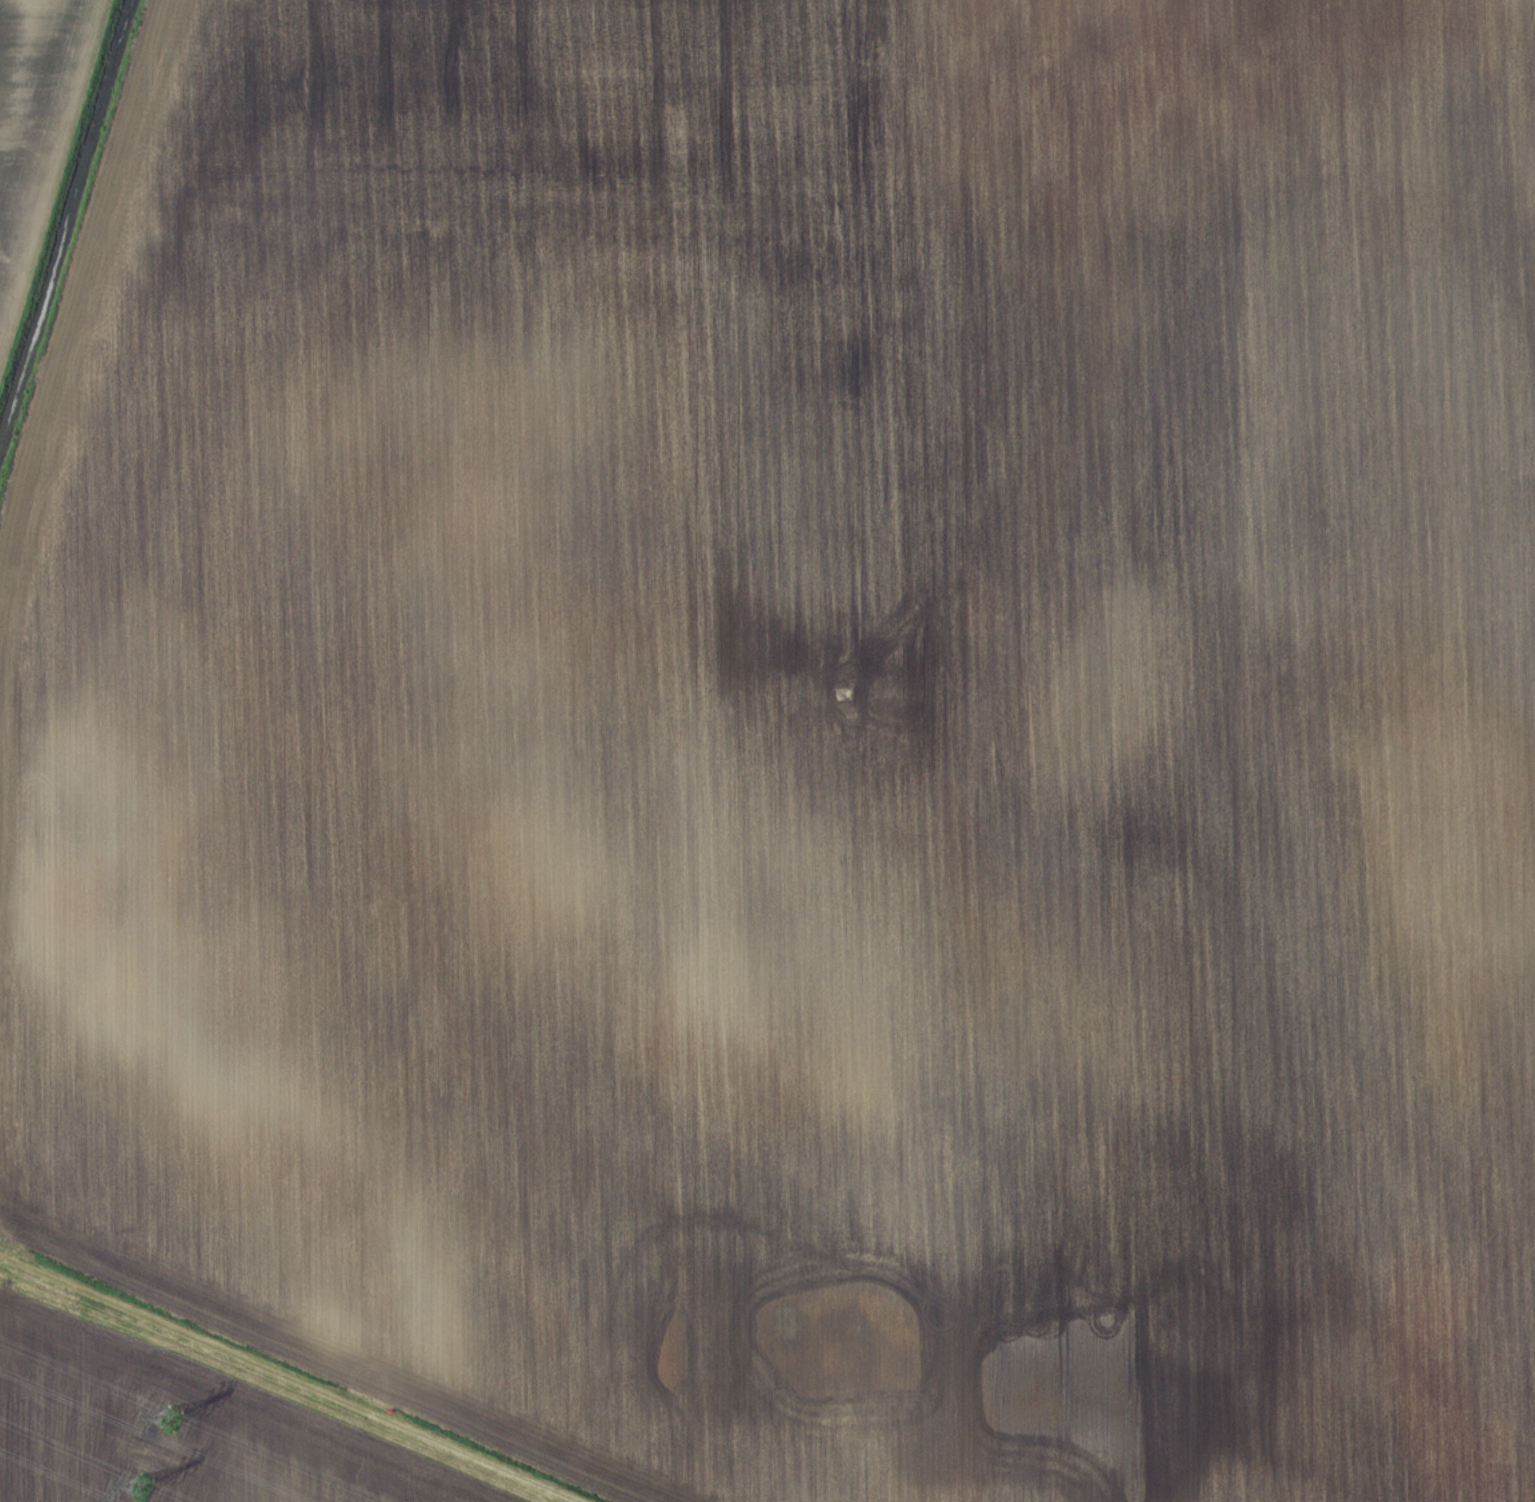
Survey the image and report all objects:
power tower: (170, 1420)
power tower: (142, 1486)

